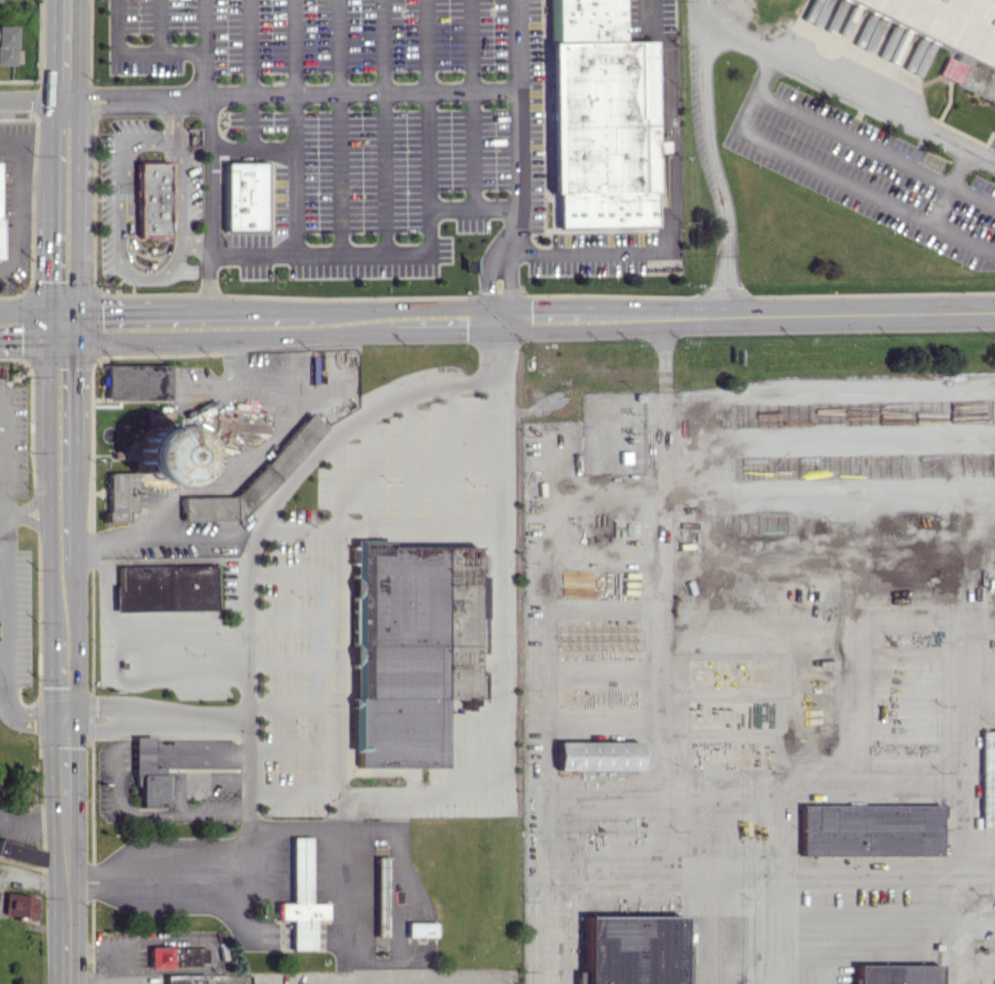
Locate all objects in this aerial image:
building: (0, 1)
road: (158, 26)
road: (201, 26)
building: (950, 37)
building: (7, 44)
road: (250, 47)
road: (293, 47)
road: (66, 50)
road: (155, 51)
road: (842, 88)
road: (291, 95)
road: (33, 100)
road: (428, 103)
road: (471, 104)
road: (168, 117)
building: (598, 117)
road: (340, 125)
road: (383, 126)
road: (518, 128)
road: (294, 157)
road: (717, 170)
road: (831, 173)
road: (35, 177)
road: (955, 185)
building: (243, 196)
road: (671, 198)
building: (151, 199)
road: (939, 202)
road: (18, 203)
road: (209, 209)
road: (51, 211)
road: (78, 211)
road: (196, 247)
road: (384, 252)
road: (129, 273)
road: (489, 284)
road: (507, 286)
road: (788, 314)
road: (539, 318)
road: (446, 319)
traffic signals: (498, 319)
road: (356, 320)
road: (263, 321)
road: (308, 321)
road: (219, 322)
road: (131, 323)
road: (197, 323)
road: (63, 324)
traffic signals: (78, 324)
road: (24, 325)
traffic signals: (49, 325)
building: (136, 382)
road: (238, 383)
road: (49, 385)
road: (203, 423)
road: (77, 436)
building: (162, 452)
water tower: (162, 453)
road: (233, 476)
building: (119, 495)
building: (227, 499)
road: (31, 503)
road: (2, 513)
road: (31, 522)
road: (50, 540)
road: (163, 560)
road: (2, 564)
road: (5, 579)
road: (662, 587)
building: (164, 588)
building: (481, 596)
road: (2, 607)
road: (74, 633)
road: (141, 637)
road: (247, 646)
building: (409, 650)
road: (2, 653)
road: (58, 676)
road: (499, 680)
traffic signals: (64, 718)
road: (155, 719)
building: (594, 755)
building: (148, 774)
building: (986, 778)
road: (117, 782)
road: (33, 824)
building: (868, 829)
road: (66, 850)
building: (19, 853)
road: (622, 860)
road: (857, 874)
building: (379, 896)
building: (298, 898)
building: (20, 905)
road: (952, 926)
building: (418, 928)
building: (632, 950)
building: (158, 956)
building: (895, 973)
building: (182, 979)

